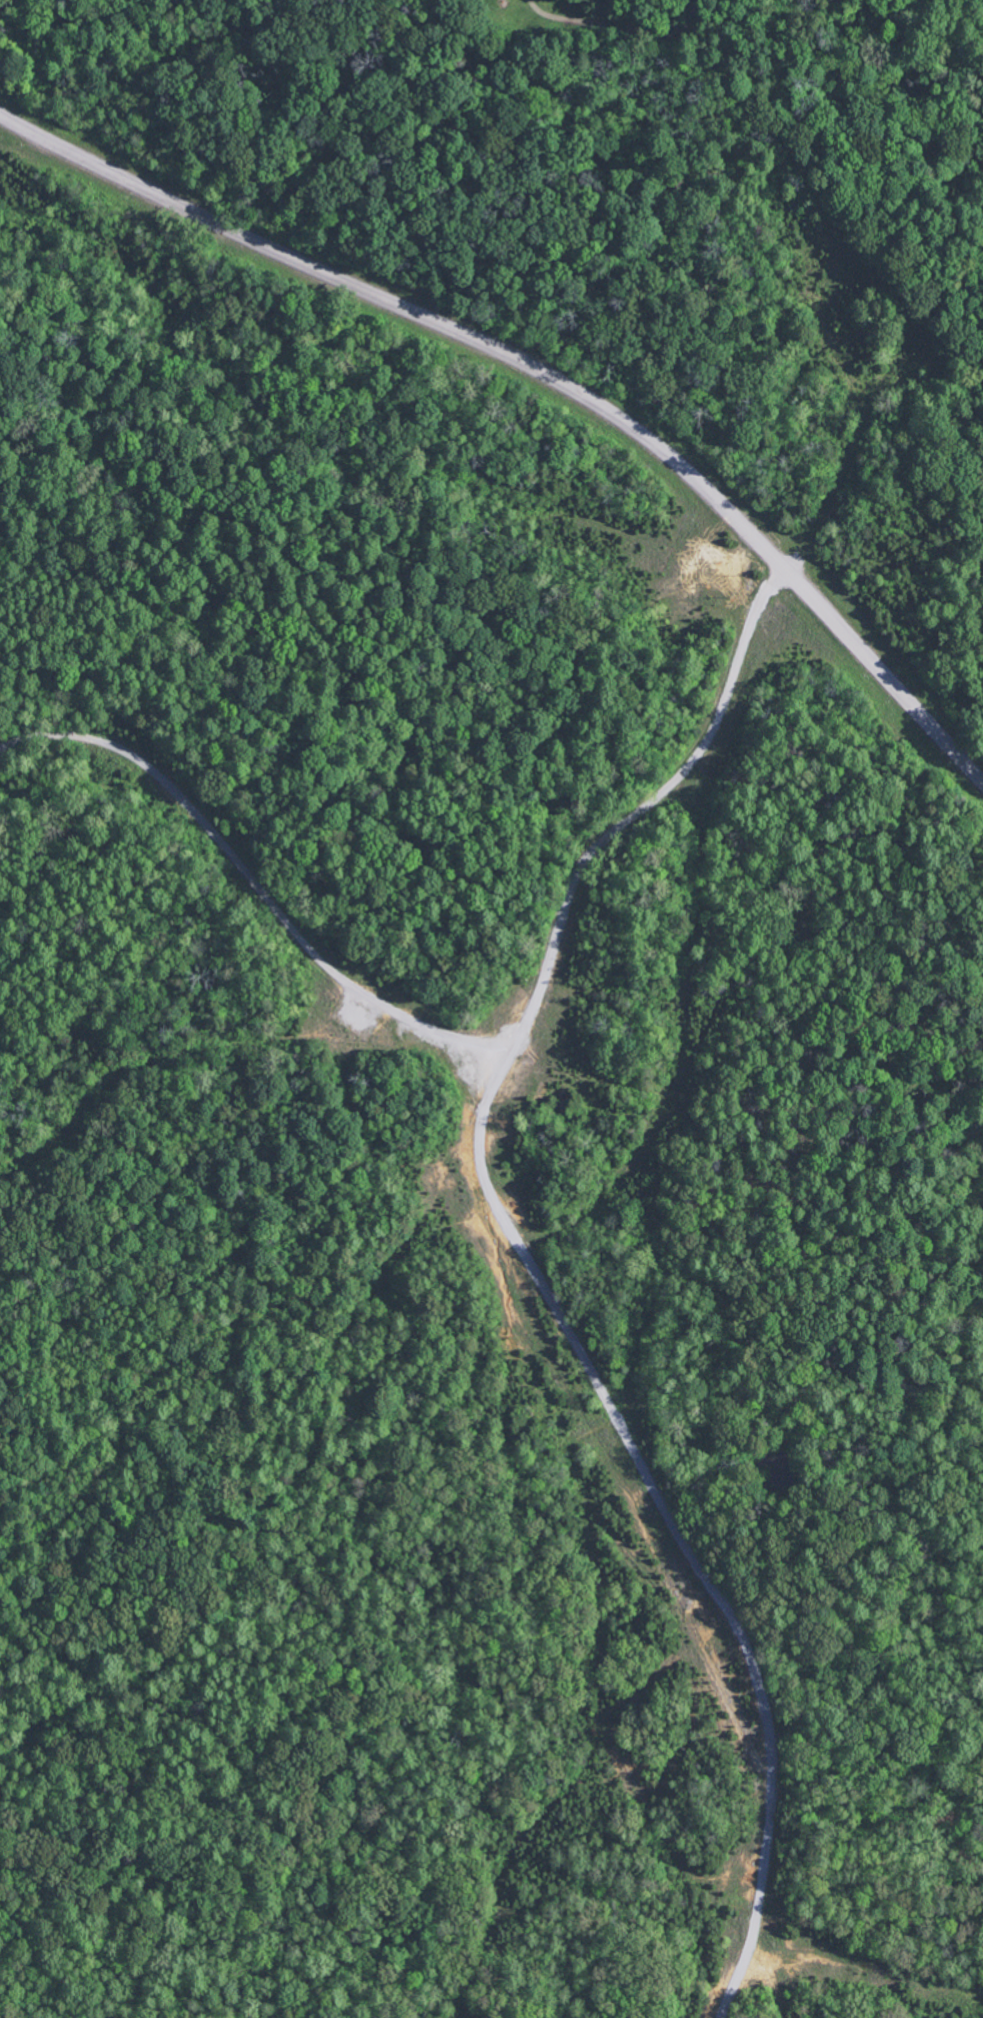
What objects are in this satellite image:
road: (544, 373)
road: (473, 1047)

